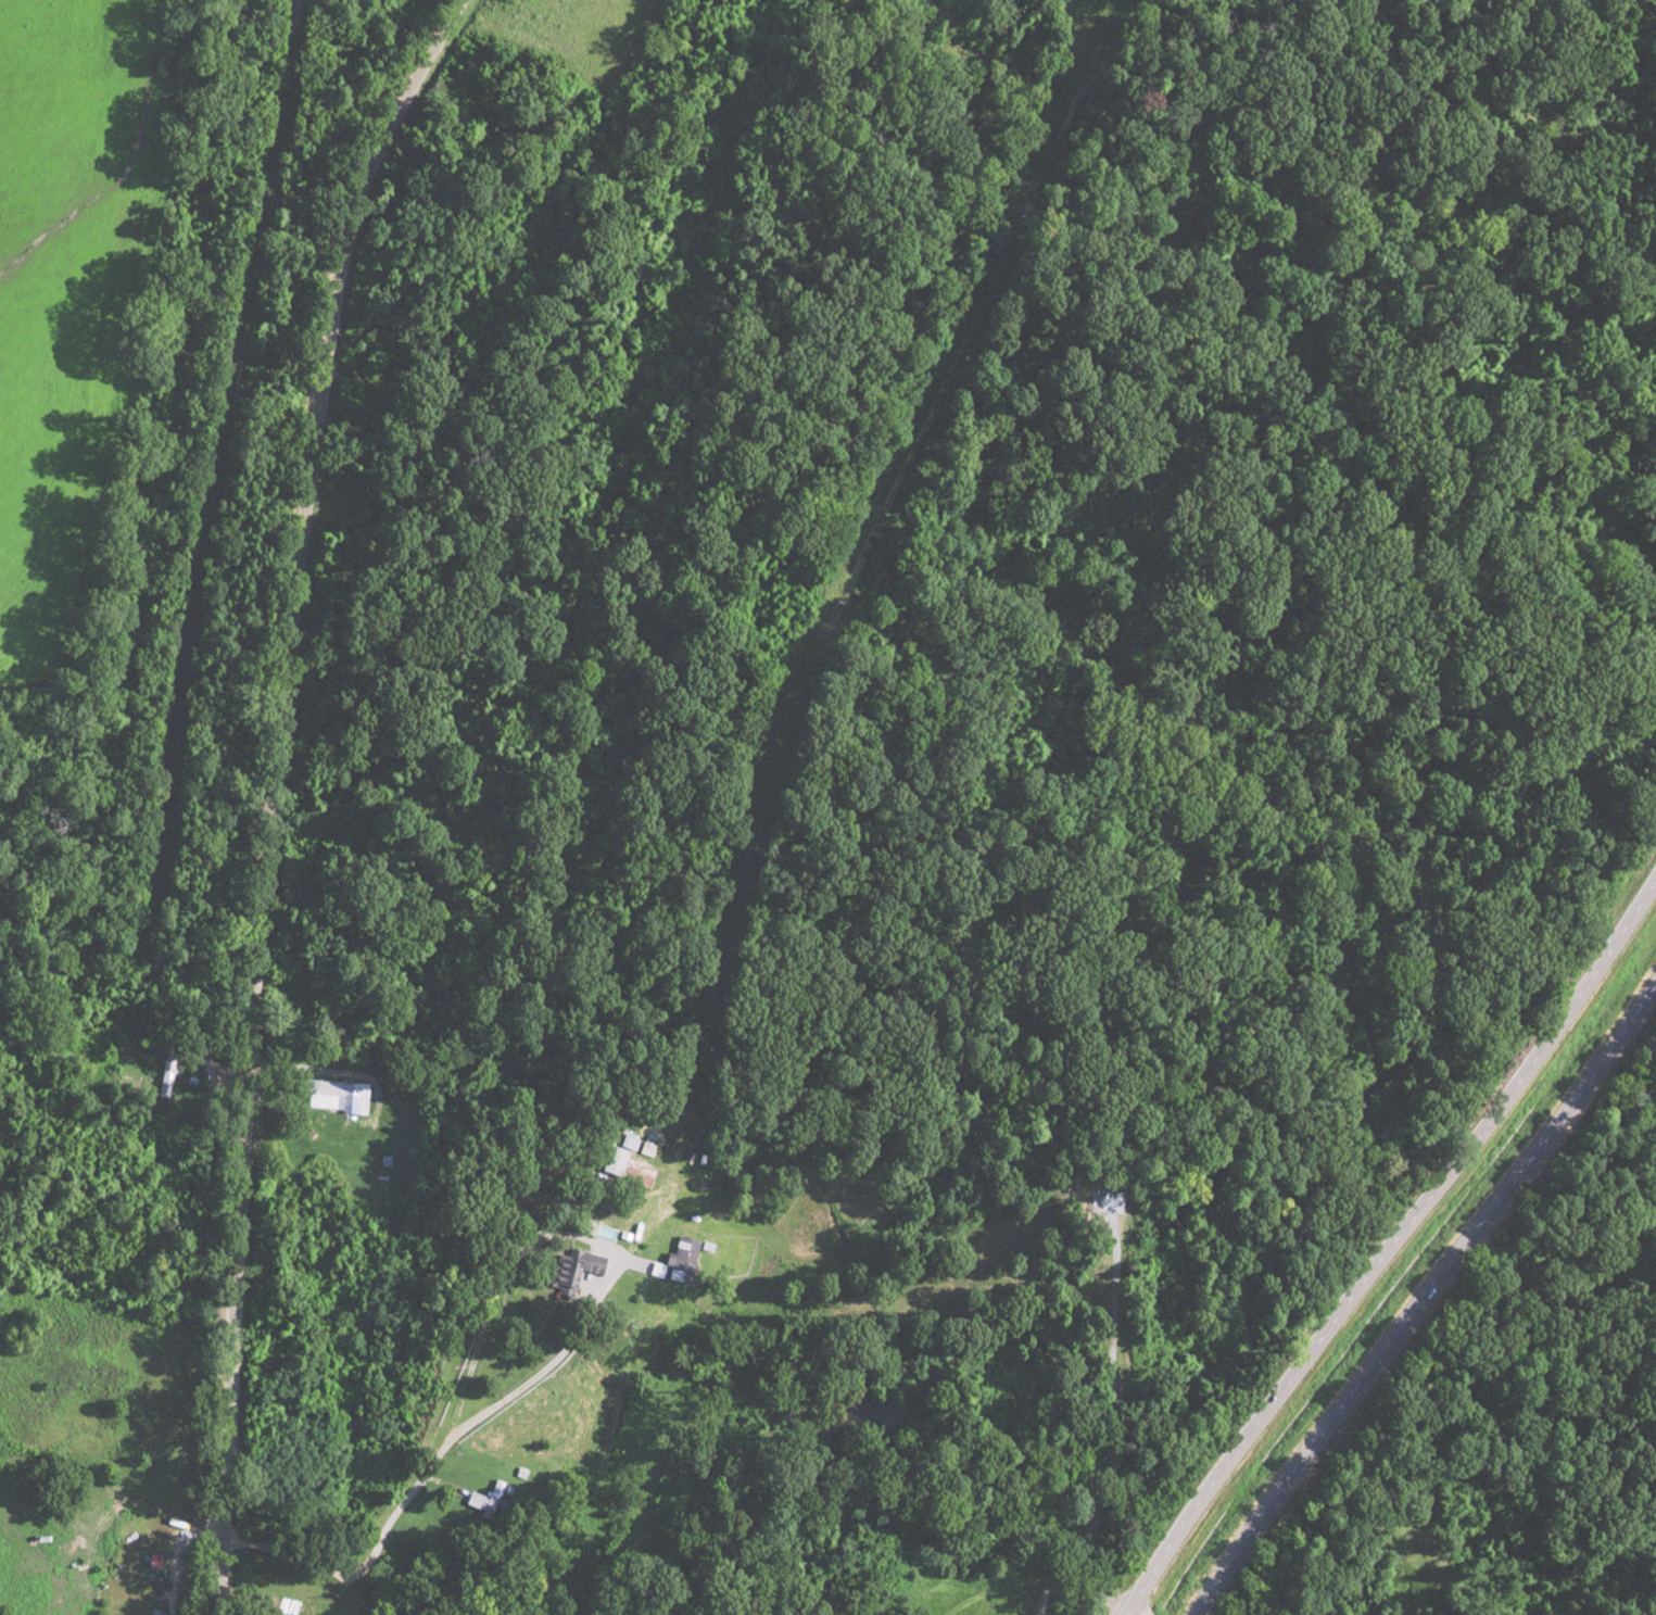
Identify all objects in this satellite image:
road: (51, 26)
road: (194, 414)
road: (275, 792)
building: (620, 1165)
road: (1389, 1238)
building: (680, 1261)
building: (570, 1271)
road: (1424, 1295)

